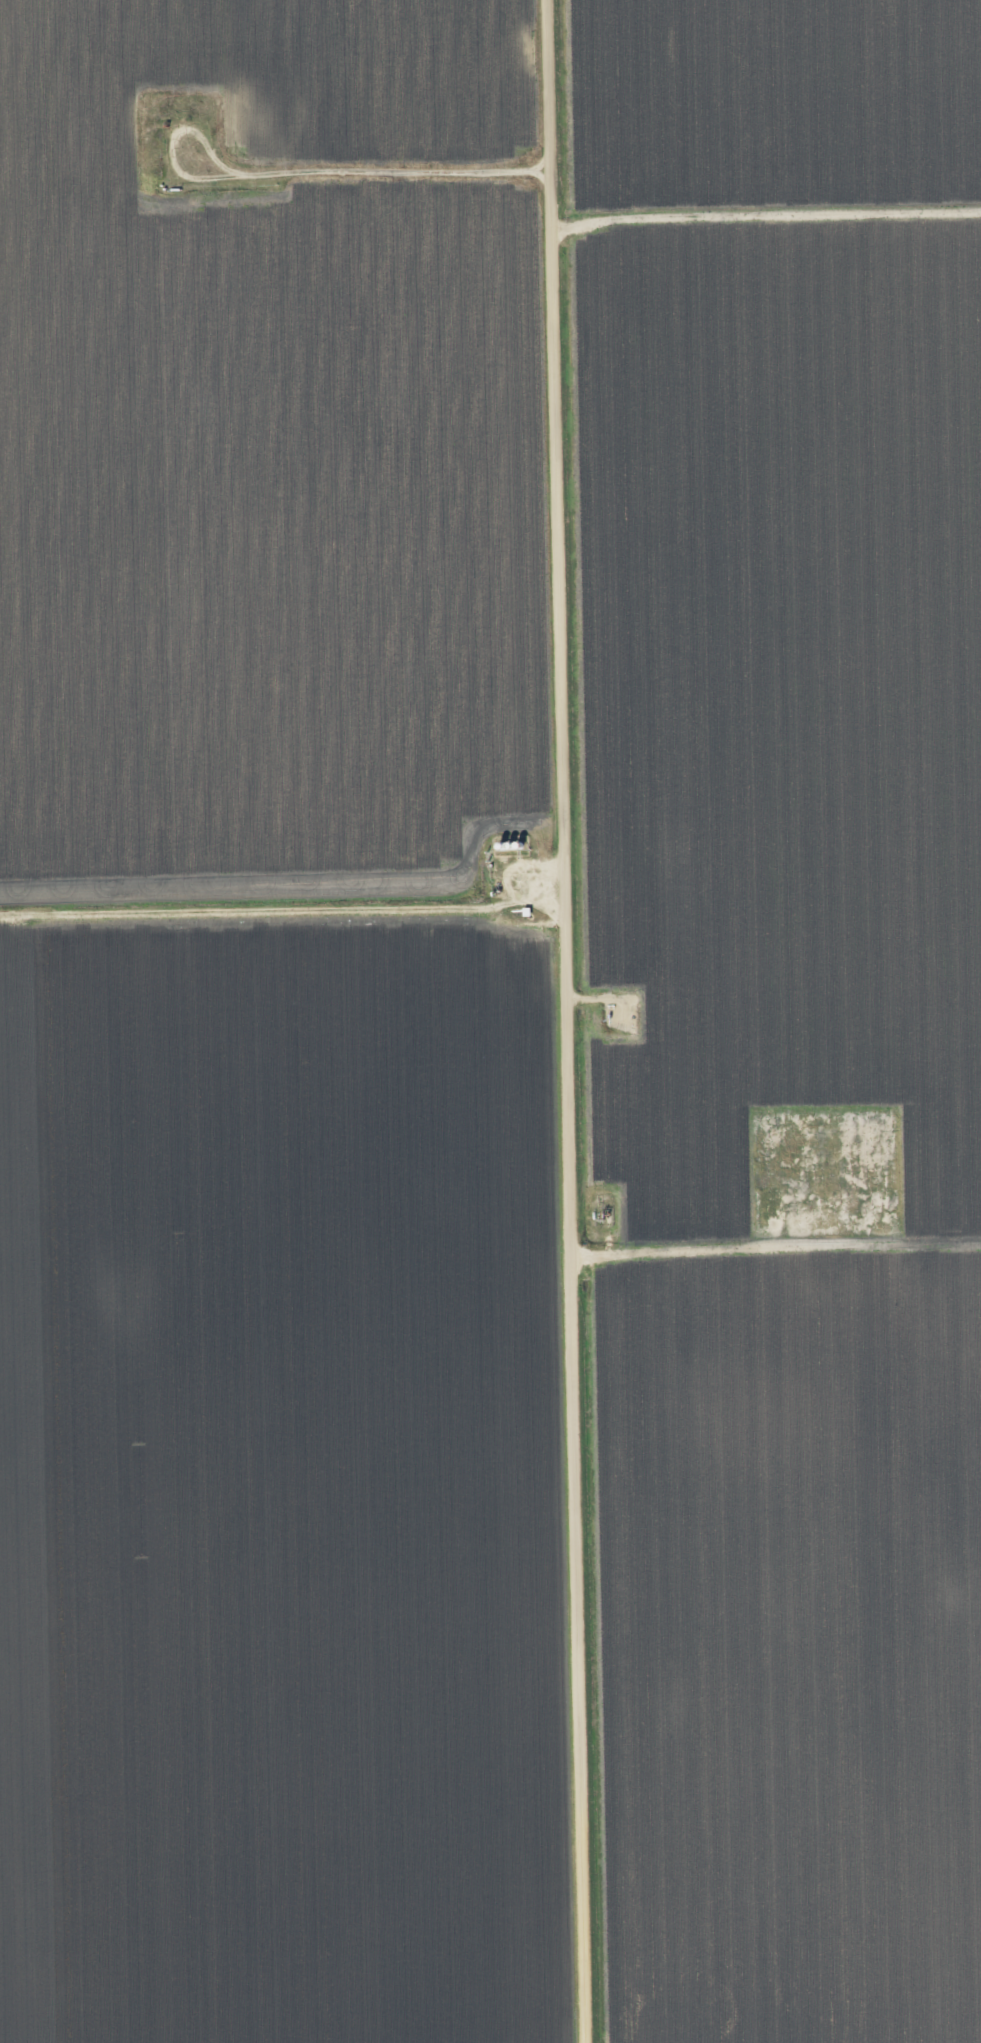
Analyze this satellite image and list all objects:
road: (600, 998)
road: (567, 1021)
road: (716, 1252)

